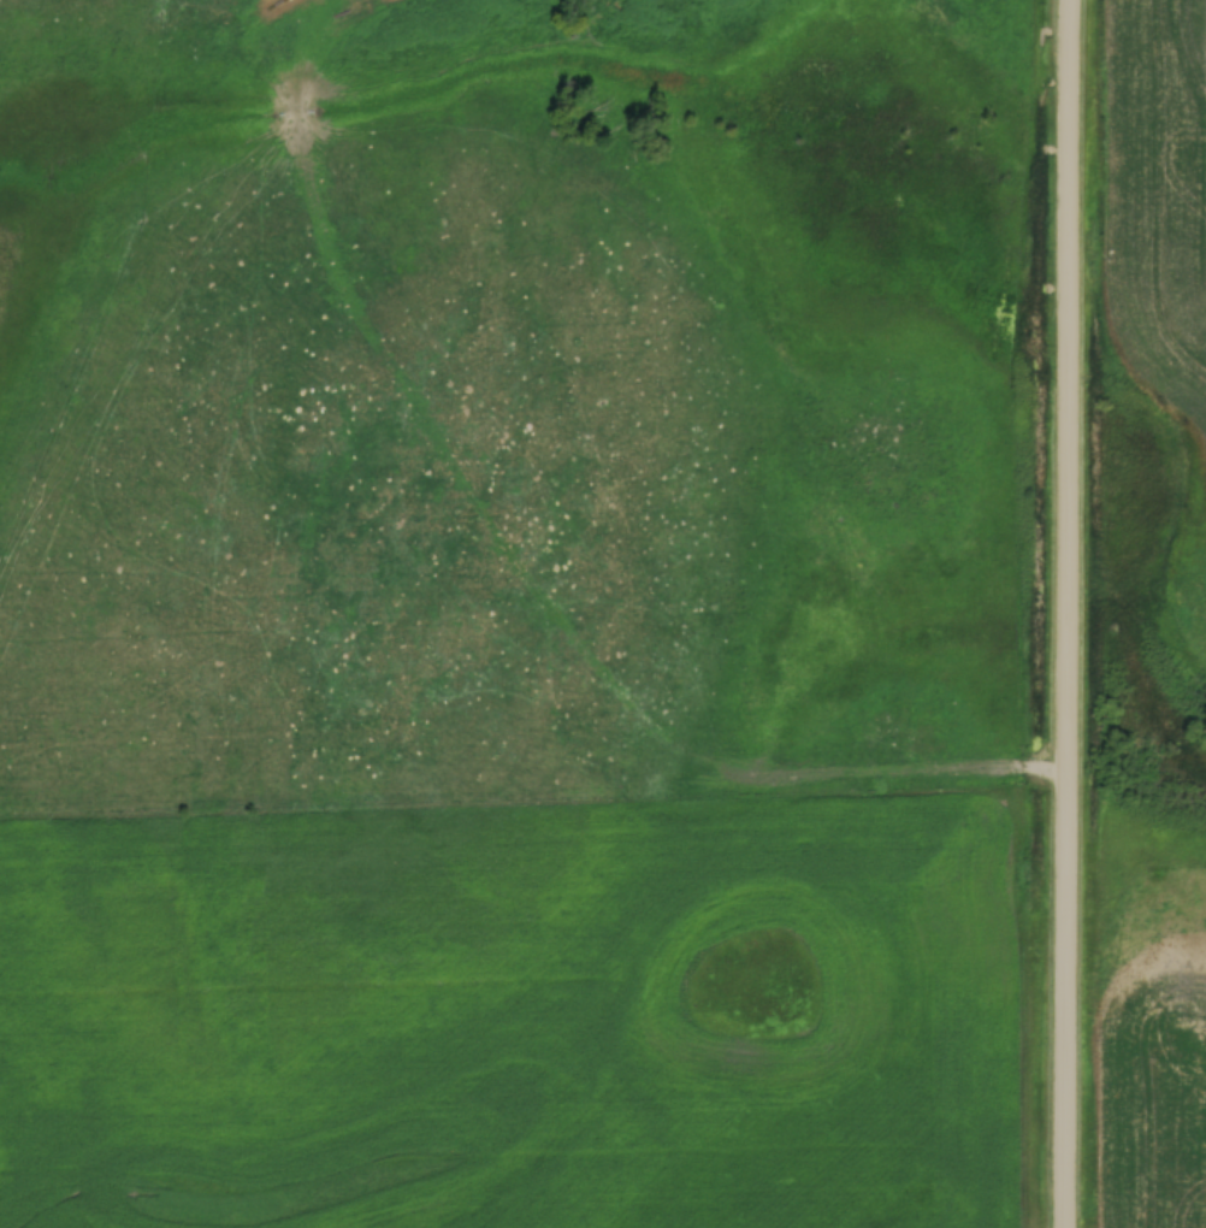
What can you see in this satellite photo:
road: (1064, 613)

